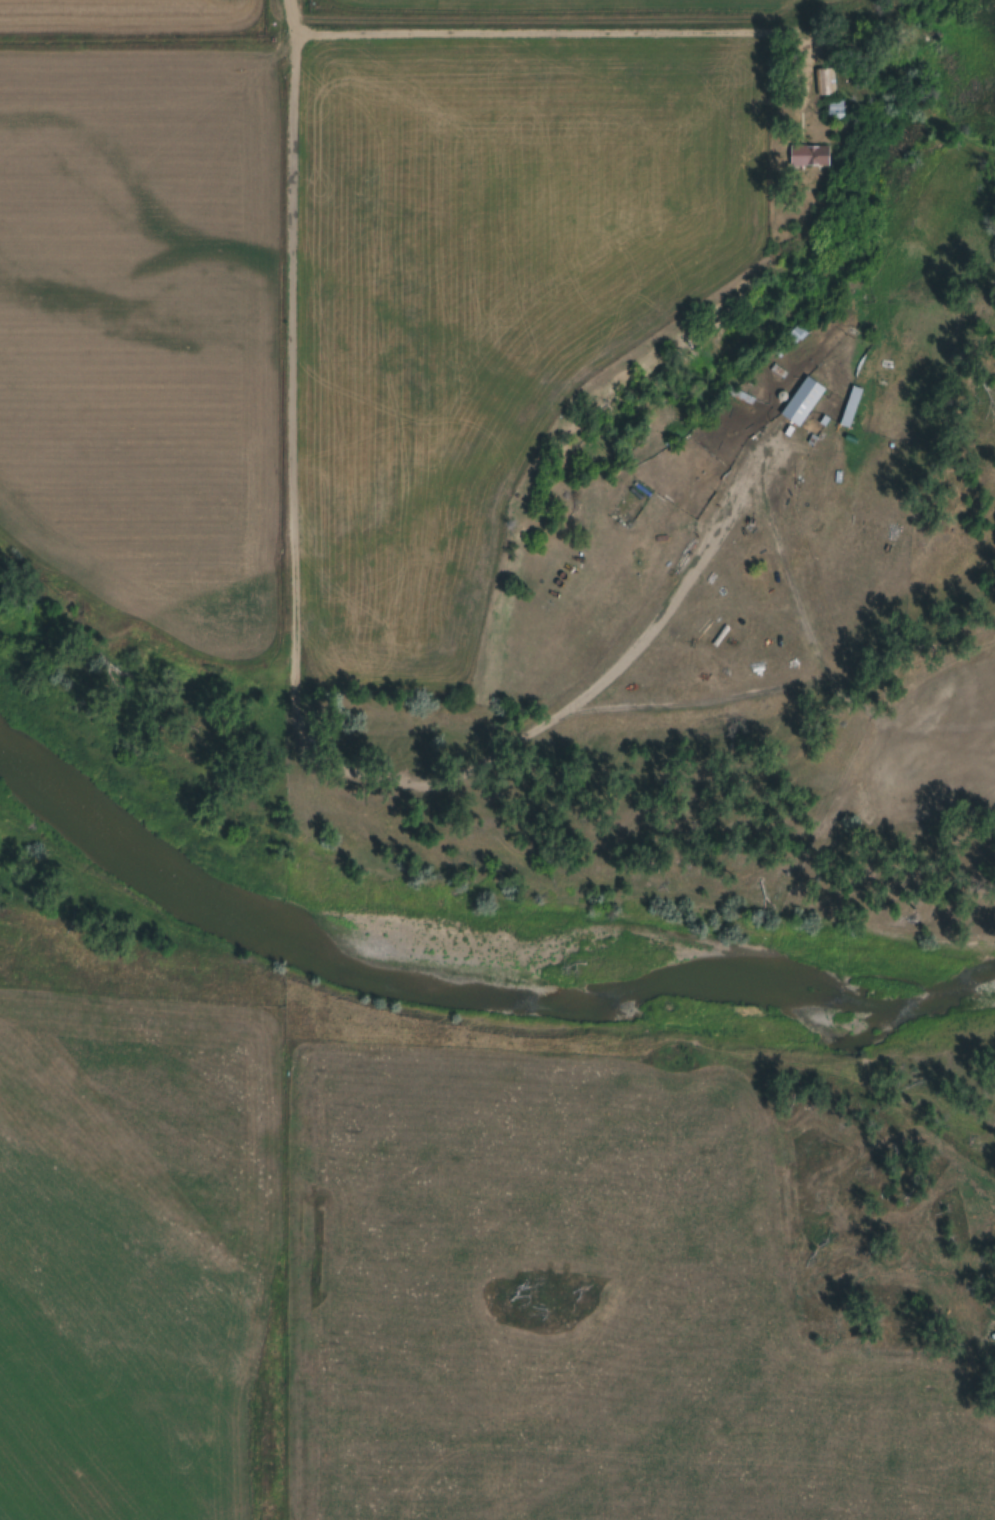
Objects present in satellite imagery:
road: (290, 6)
building: (823, 82)
building: (833, 110)
building: (806, 157)
building: (776, 371)
building: (736, 395)
building: (800, 402)
building: (848, 407)
building: (822, 421)
building: (787, 431)
building: (849, 440)
road: (294, 665)
river: (476, 981)

